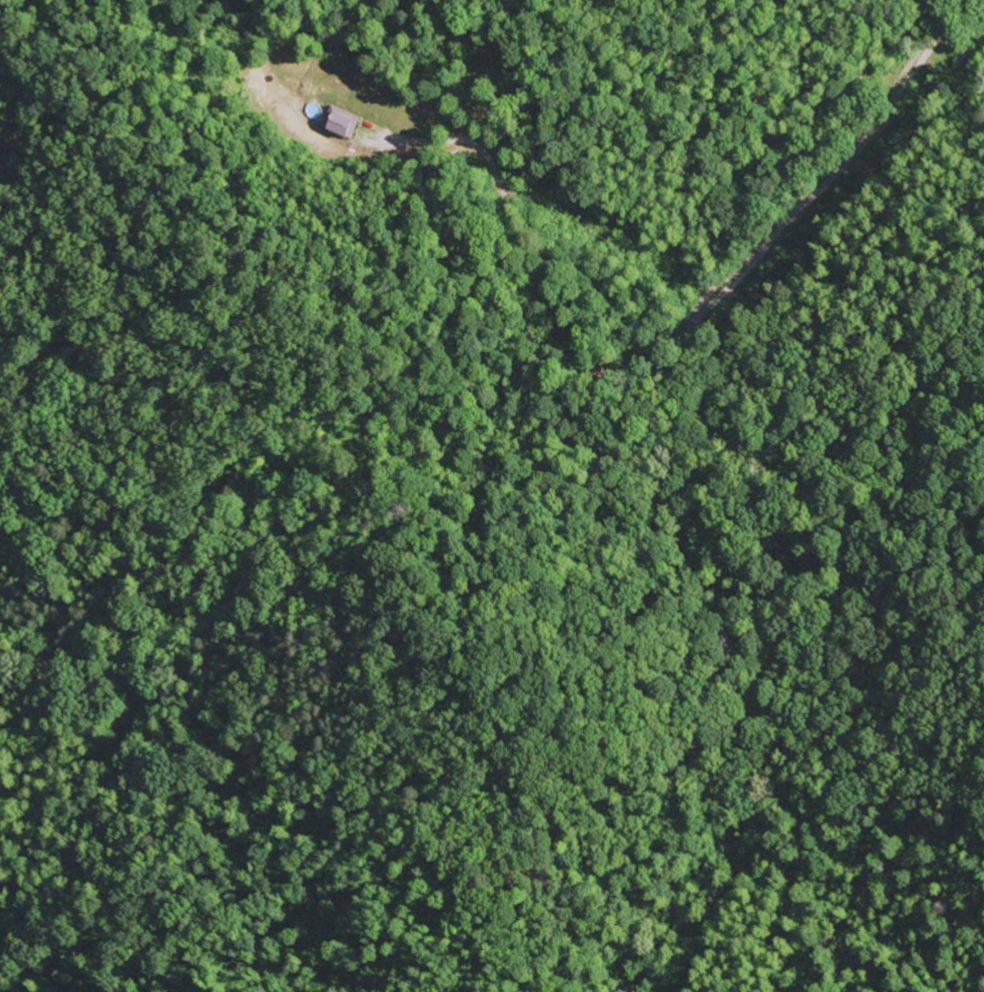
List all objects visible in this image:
building: (338, 123)

